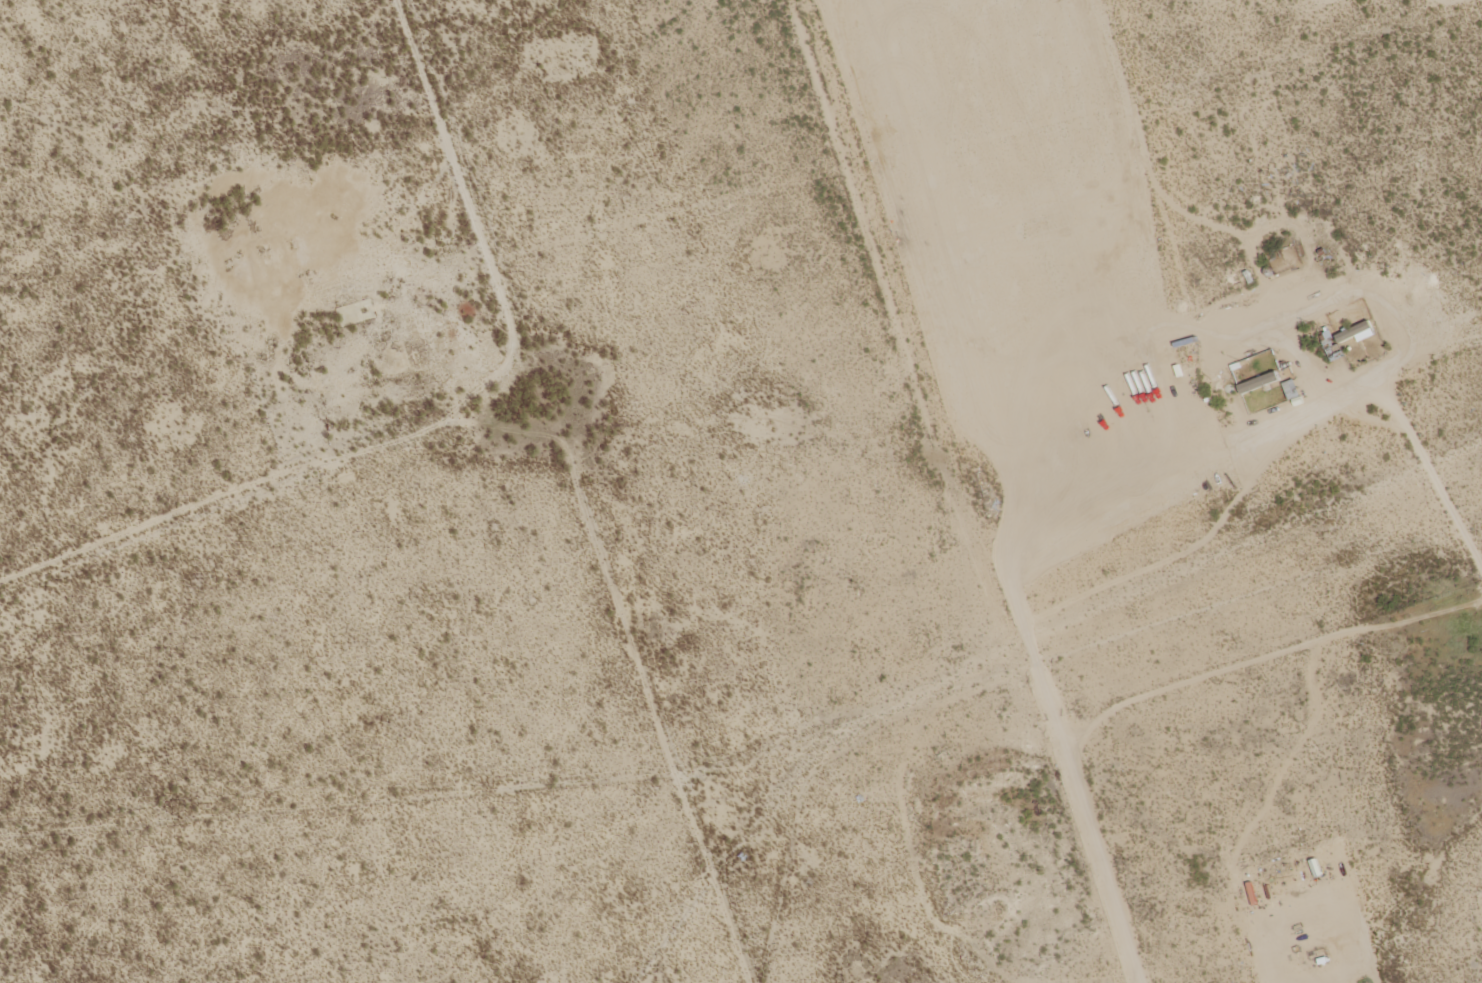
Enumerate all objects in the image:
building: (1356, 334)
road: (1198, 472)
road: (1171, 561)
road: (1265, 659)
road: (1094, 867)
road: (1206, 895)
road: (1347, 923)

